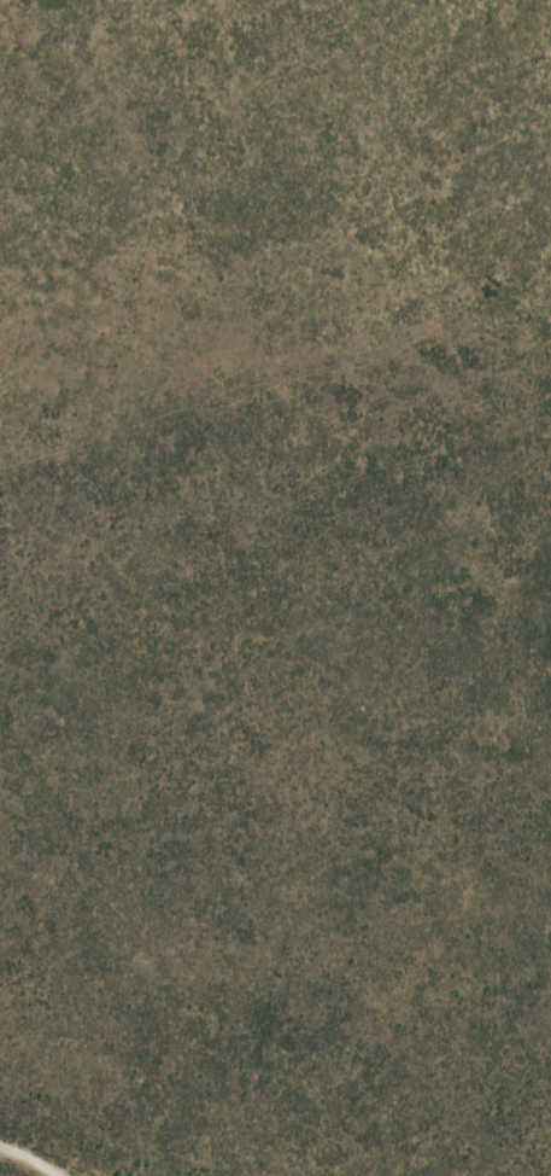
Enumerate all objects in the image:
road: (94, 1126)

